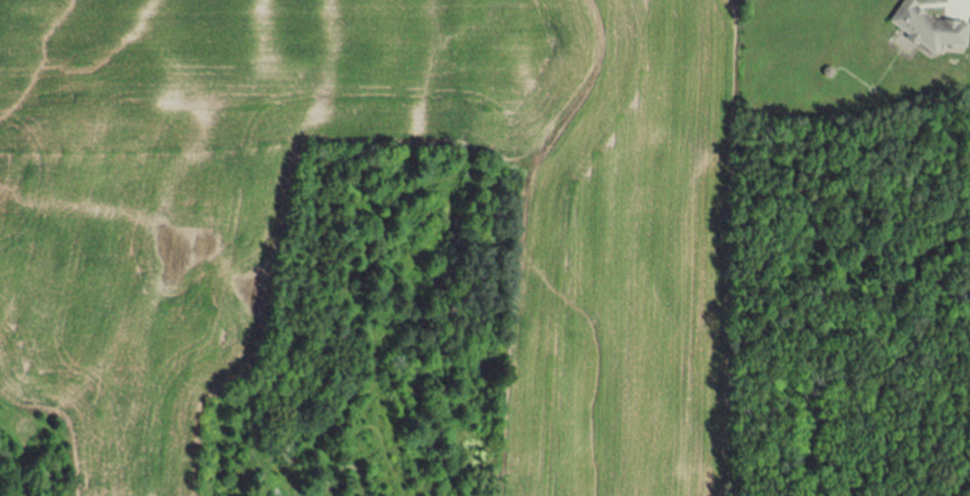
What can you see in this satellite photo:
road: (967, 2)
building: (930, 28)

